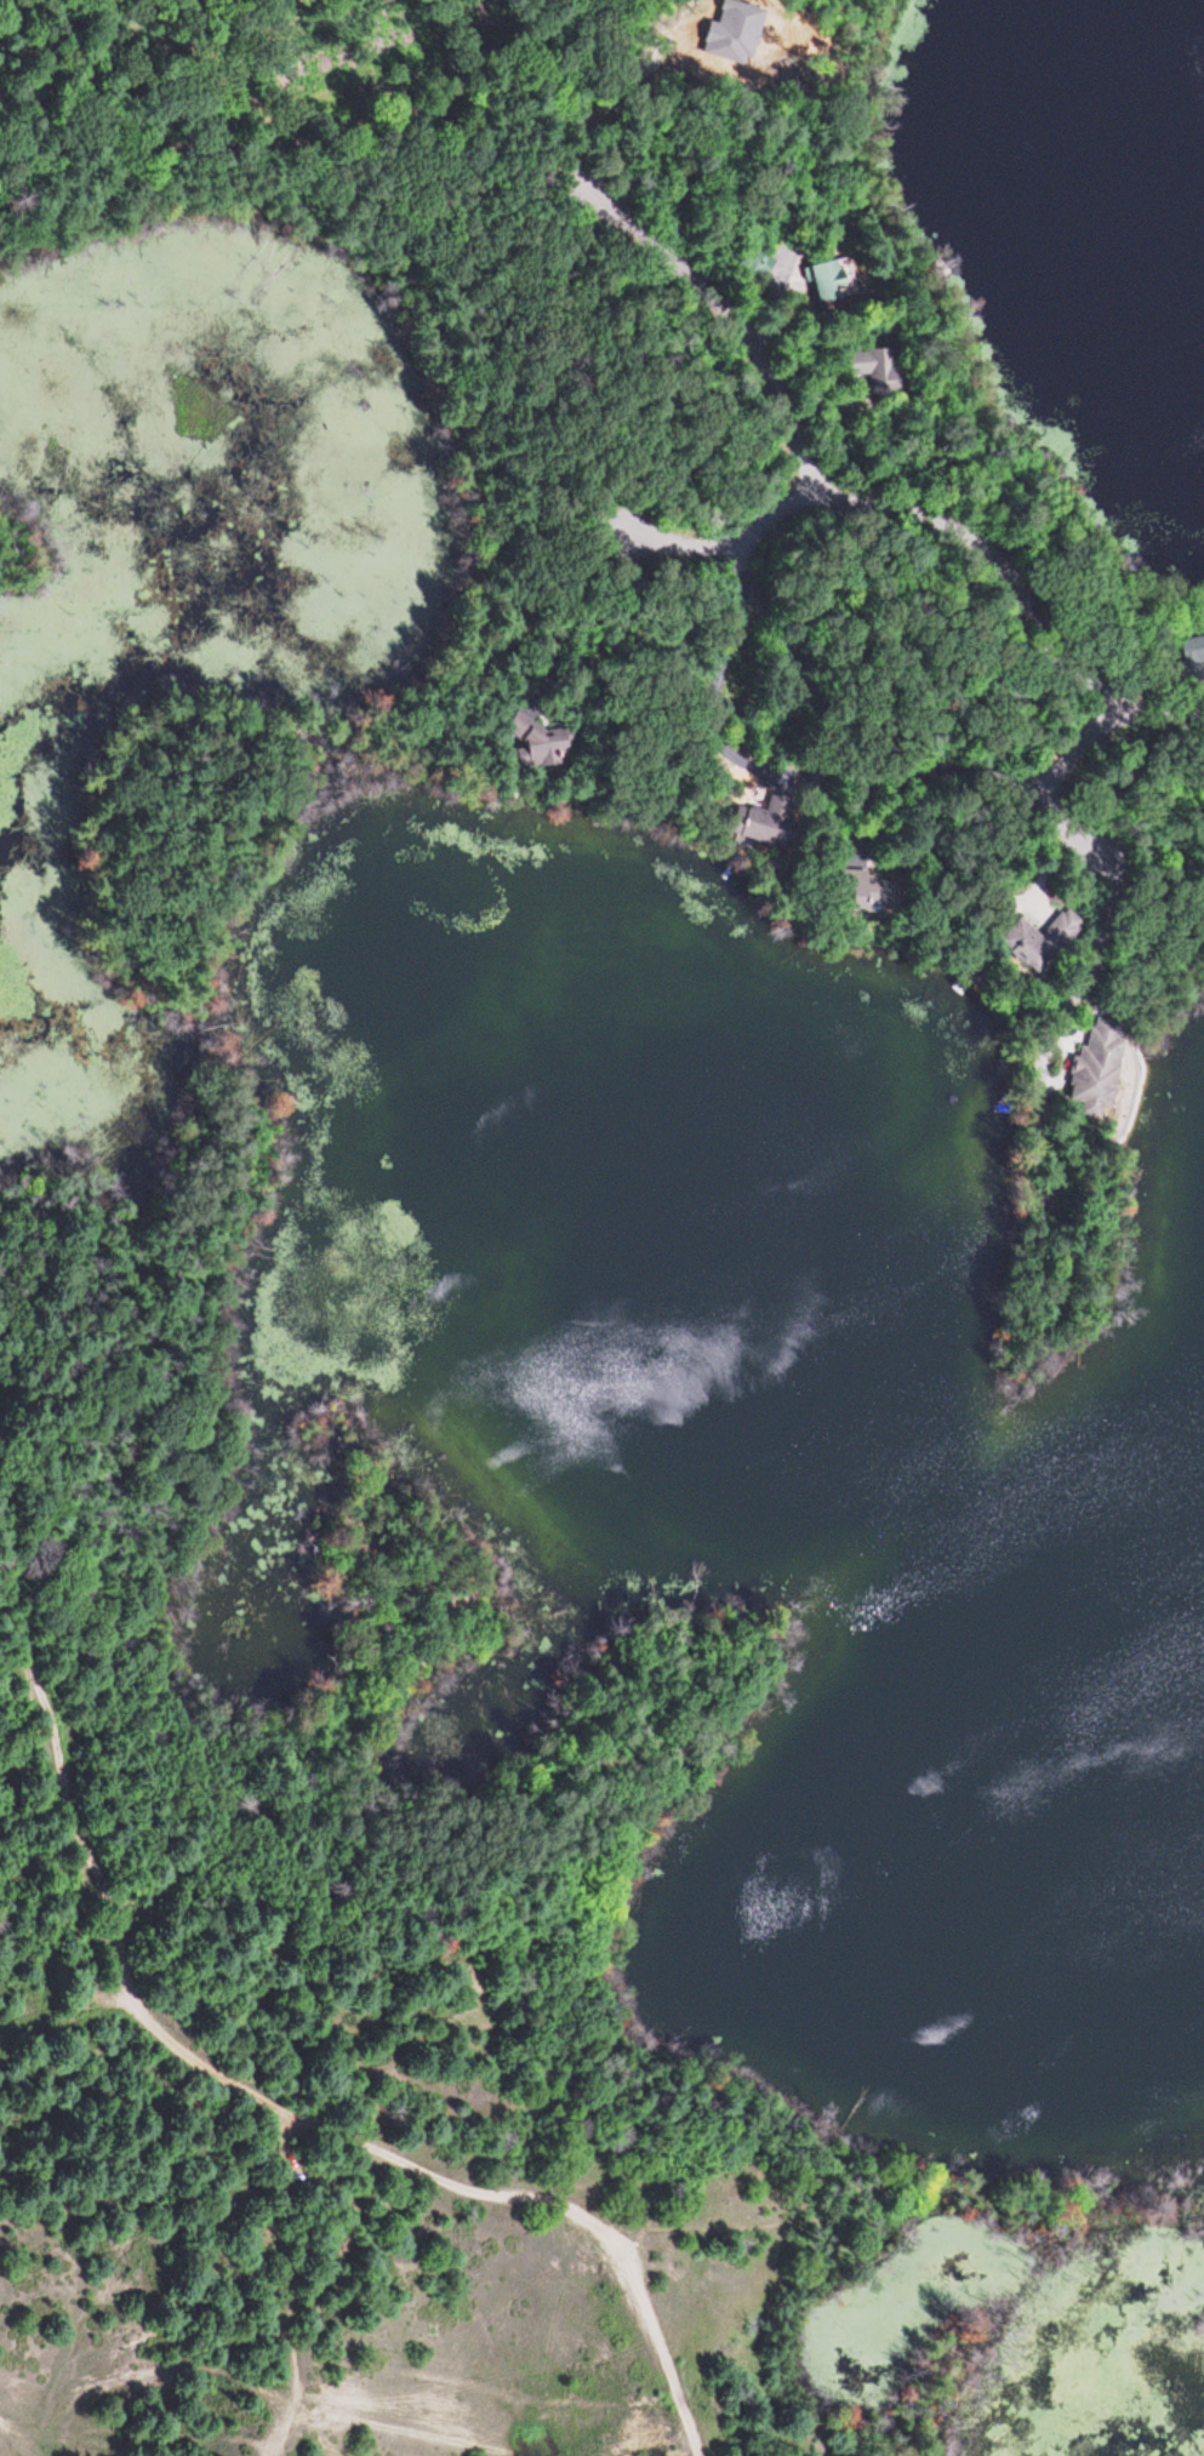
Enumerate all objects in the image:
road: (296, 126)
road: (862, 504)
road: (726, 542)
building: (1193, 659)
building: (529, 750)
road: (1054, 776)
building: (749, 830)
building: (851, 895)
building: (1018, 944)
building: (1085, 1079)
road: (239, 2096)

